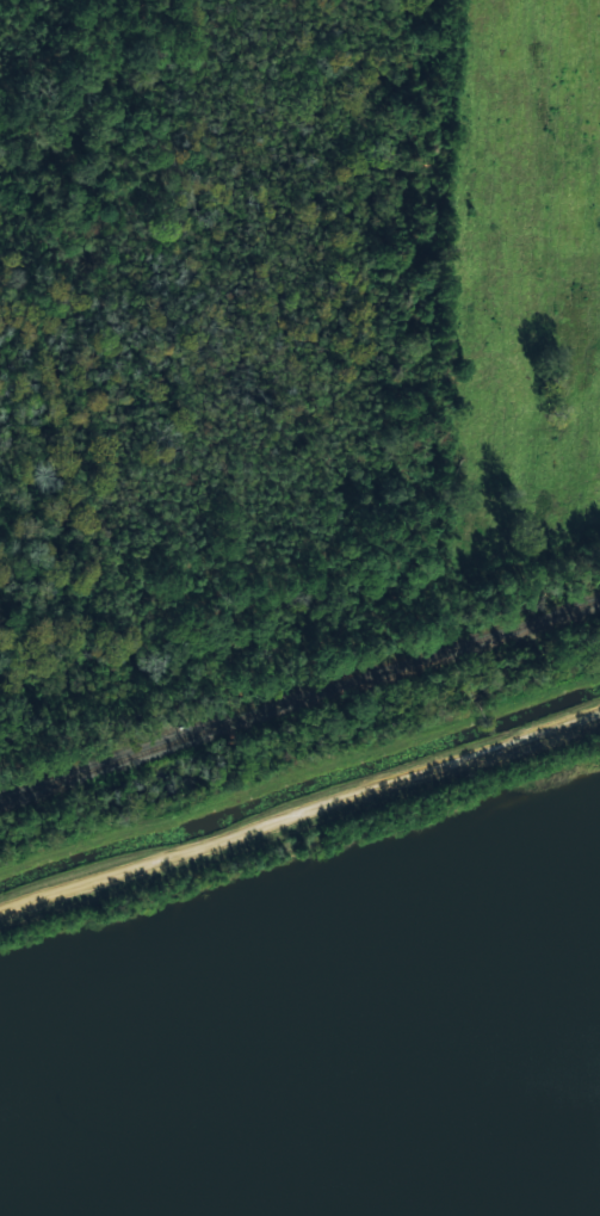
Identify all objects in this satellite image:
railway: (299, 696)

